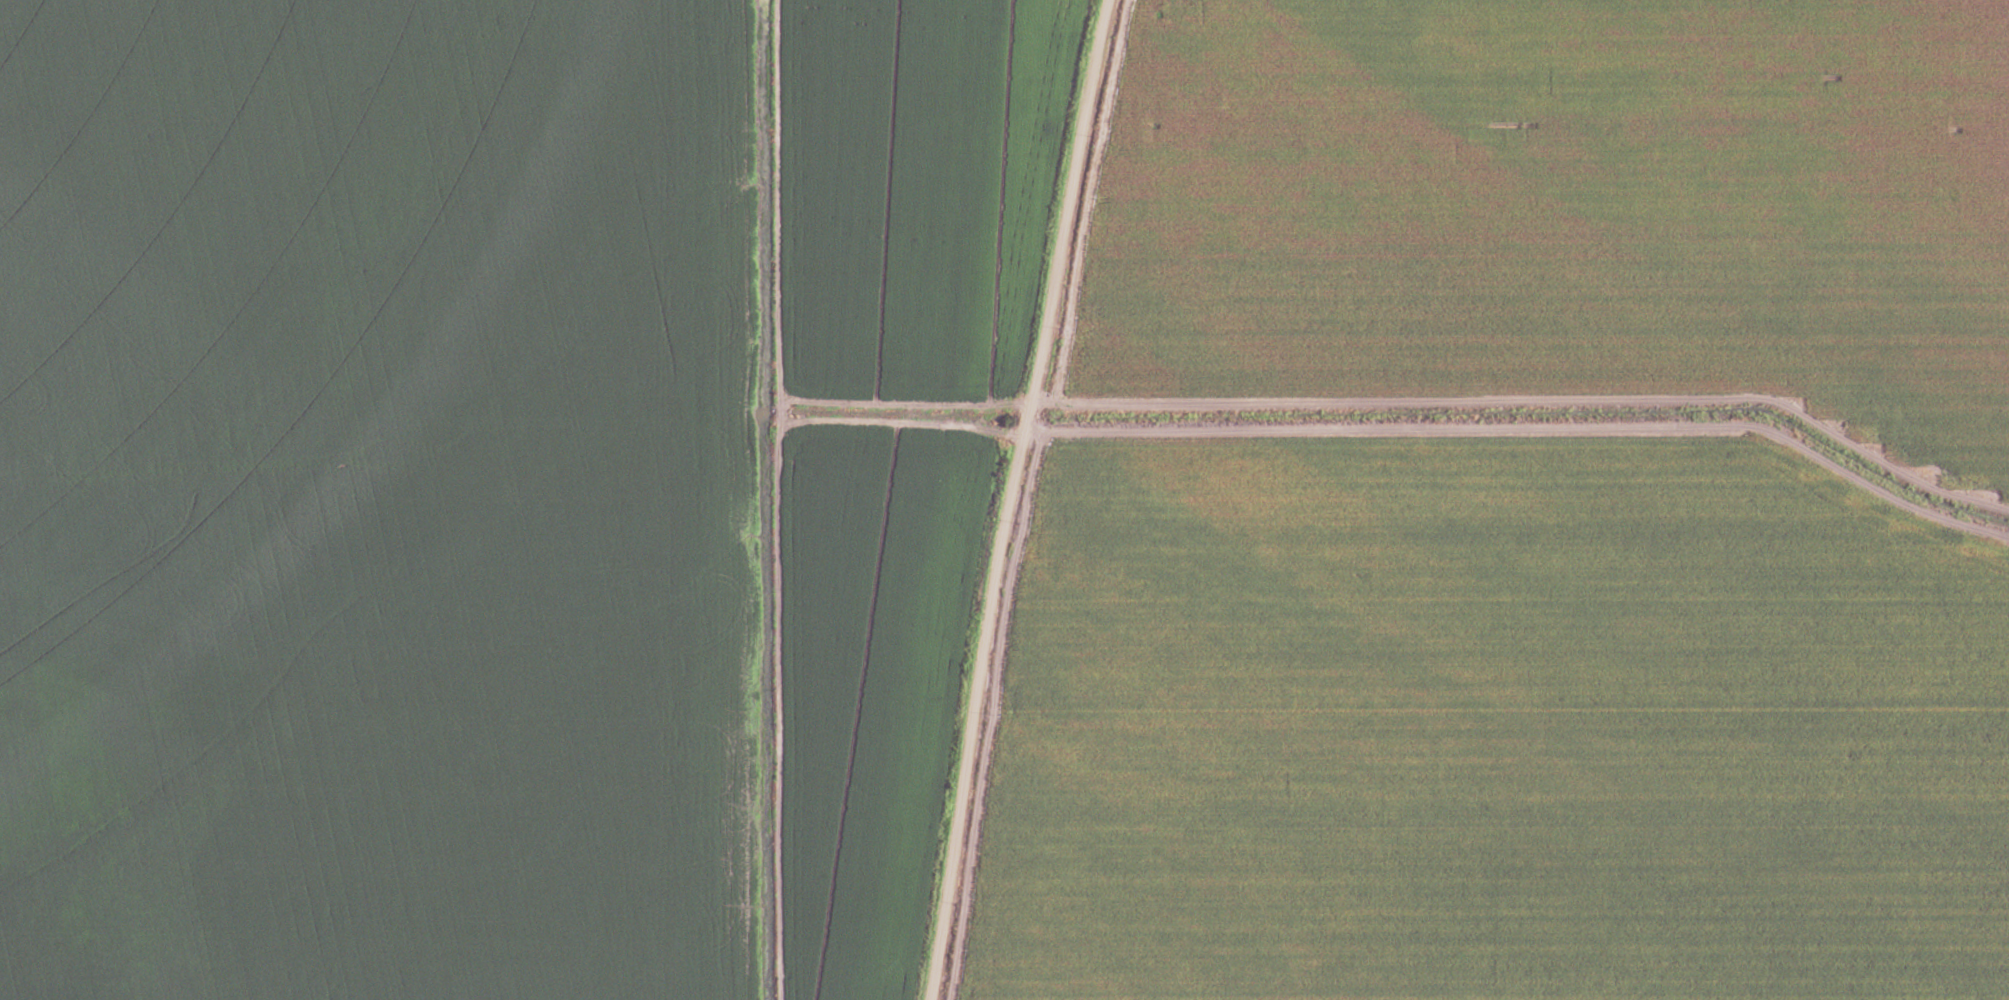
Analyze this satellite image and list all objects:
road: (1017, 498)

